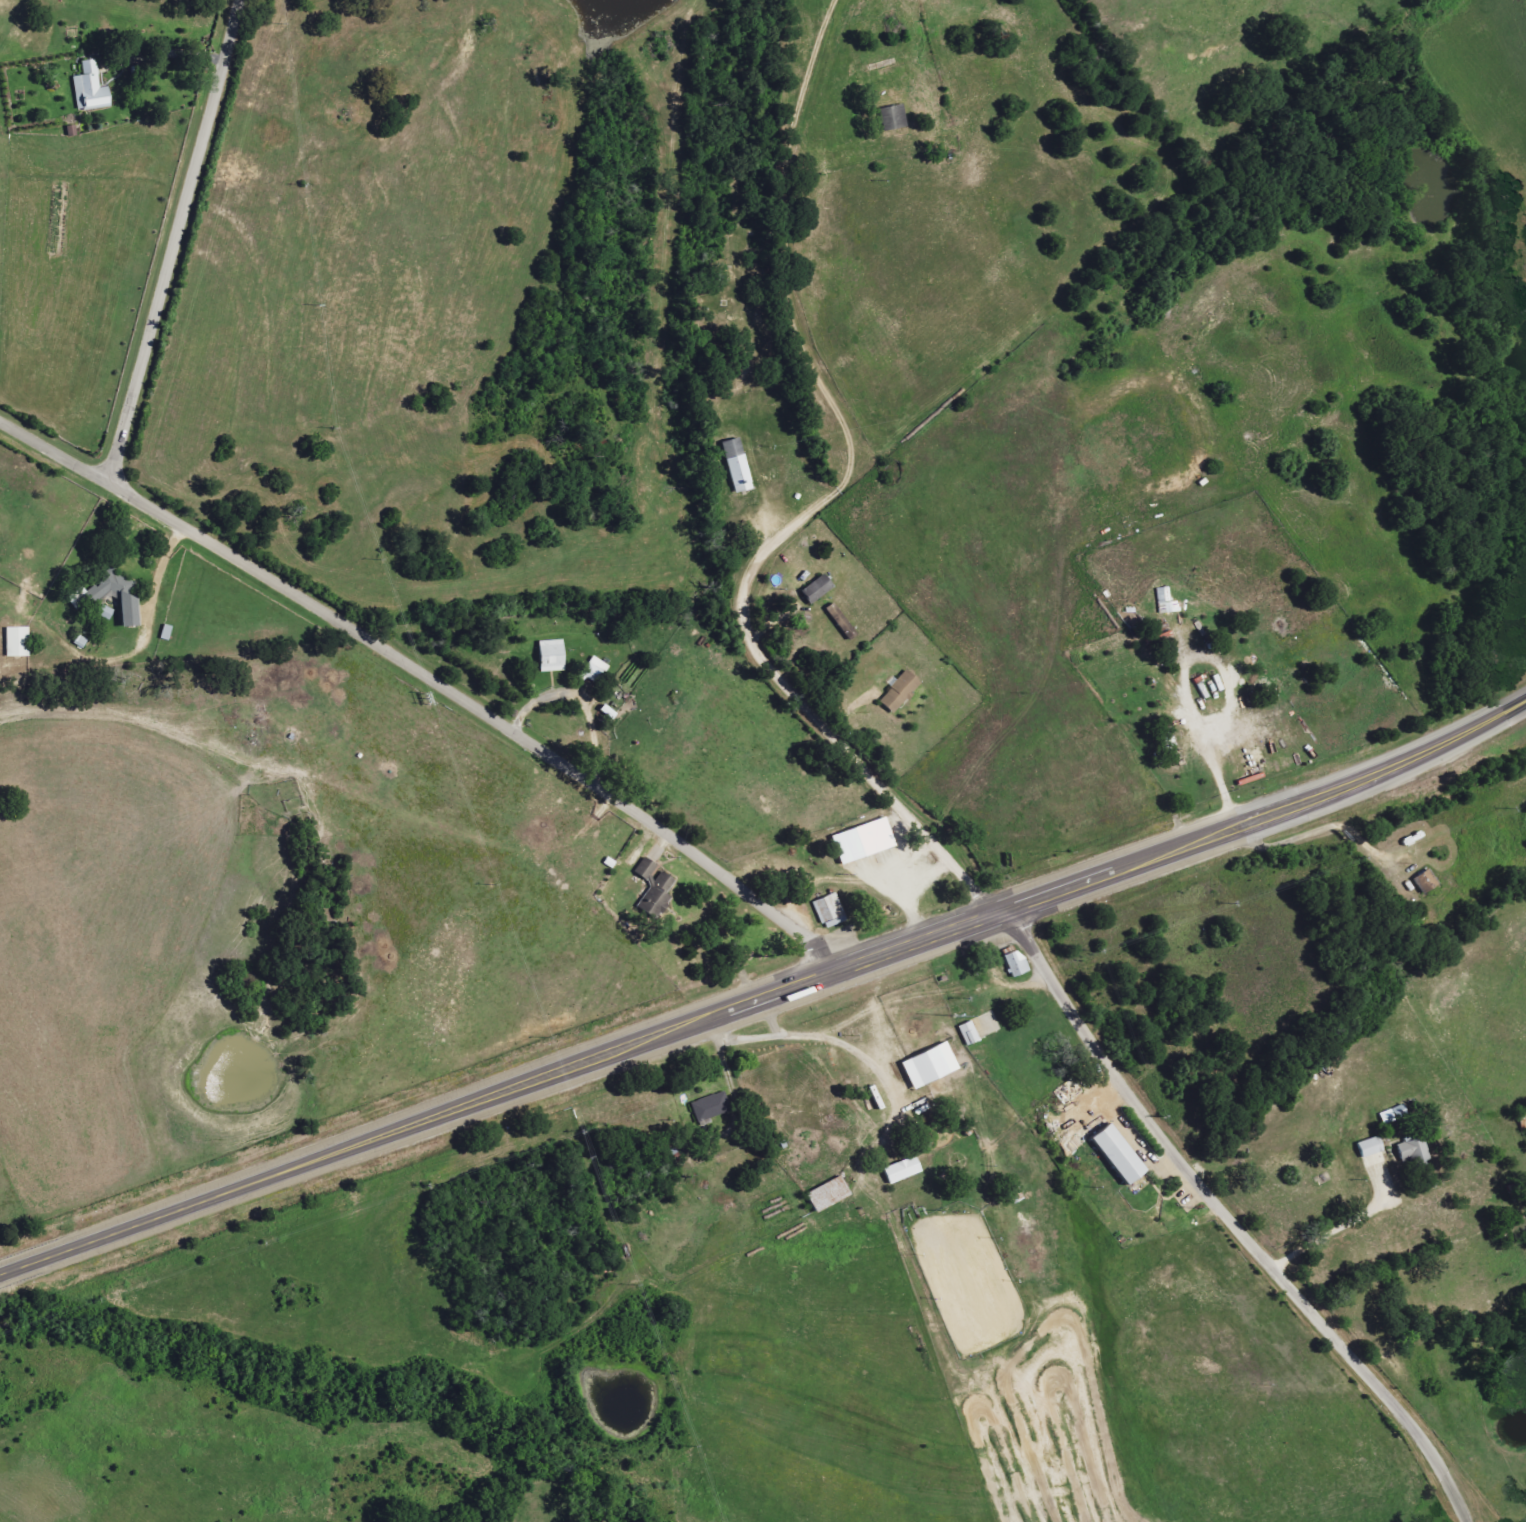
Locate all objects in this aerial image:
building: (92, 89)
building: (895, 118)
road: (177, 240)
building: (739, 465)
road: (824, 505)
road: (164, 570)
building: (820, 588)
building: (95, 596)
building: (107, 612)
building: (843, 621)
building: (20, 641)
building: (82, 641)
building: (554, 655)
building: (596, 671)
road: (432, 677)
building: (903, 691)
building: (866, 841)
road: (1365, 842)
building: (1428, 882)
building: (655, 888)
building: (832, 911)
building: (1019, 963)
road: (878, 981)
road: (765, 998)
road: (871, 1010)
building: (971, 1033)
road: (860, 1054)
building: (933, 1065)
building: (713, 1107)
road: (930, 1114)
building: (1396, 1114)
building: (1373, 1147)
building: (1415, 1151)
building: (1123, 1154)
building: (905, 1170)
building: (831, 1194)
road: (1234, 1222)
road: (1337, 1233)

